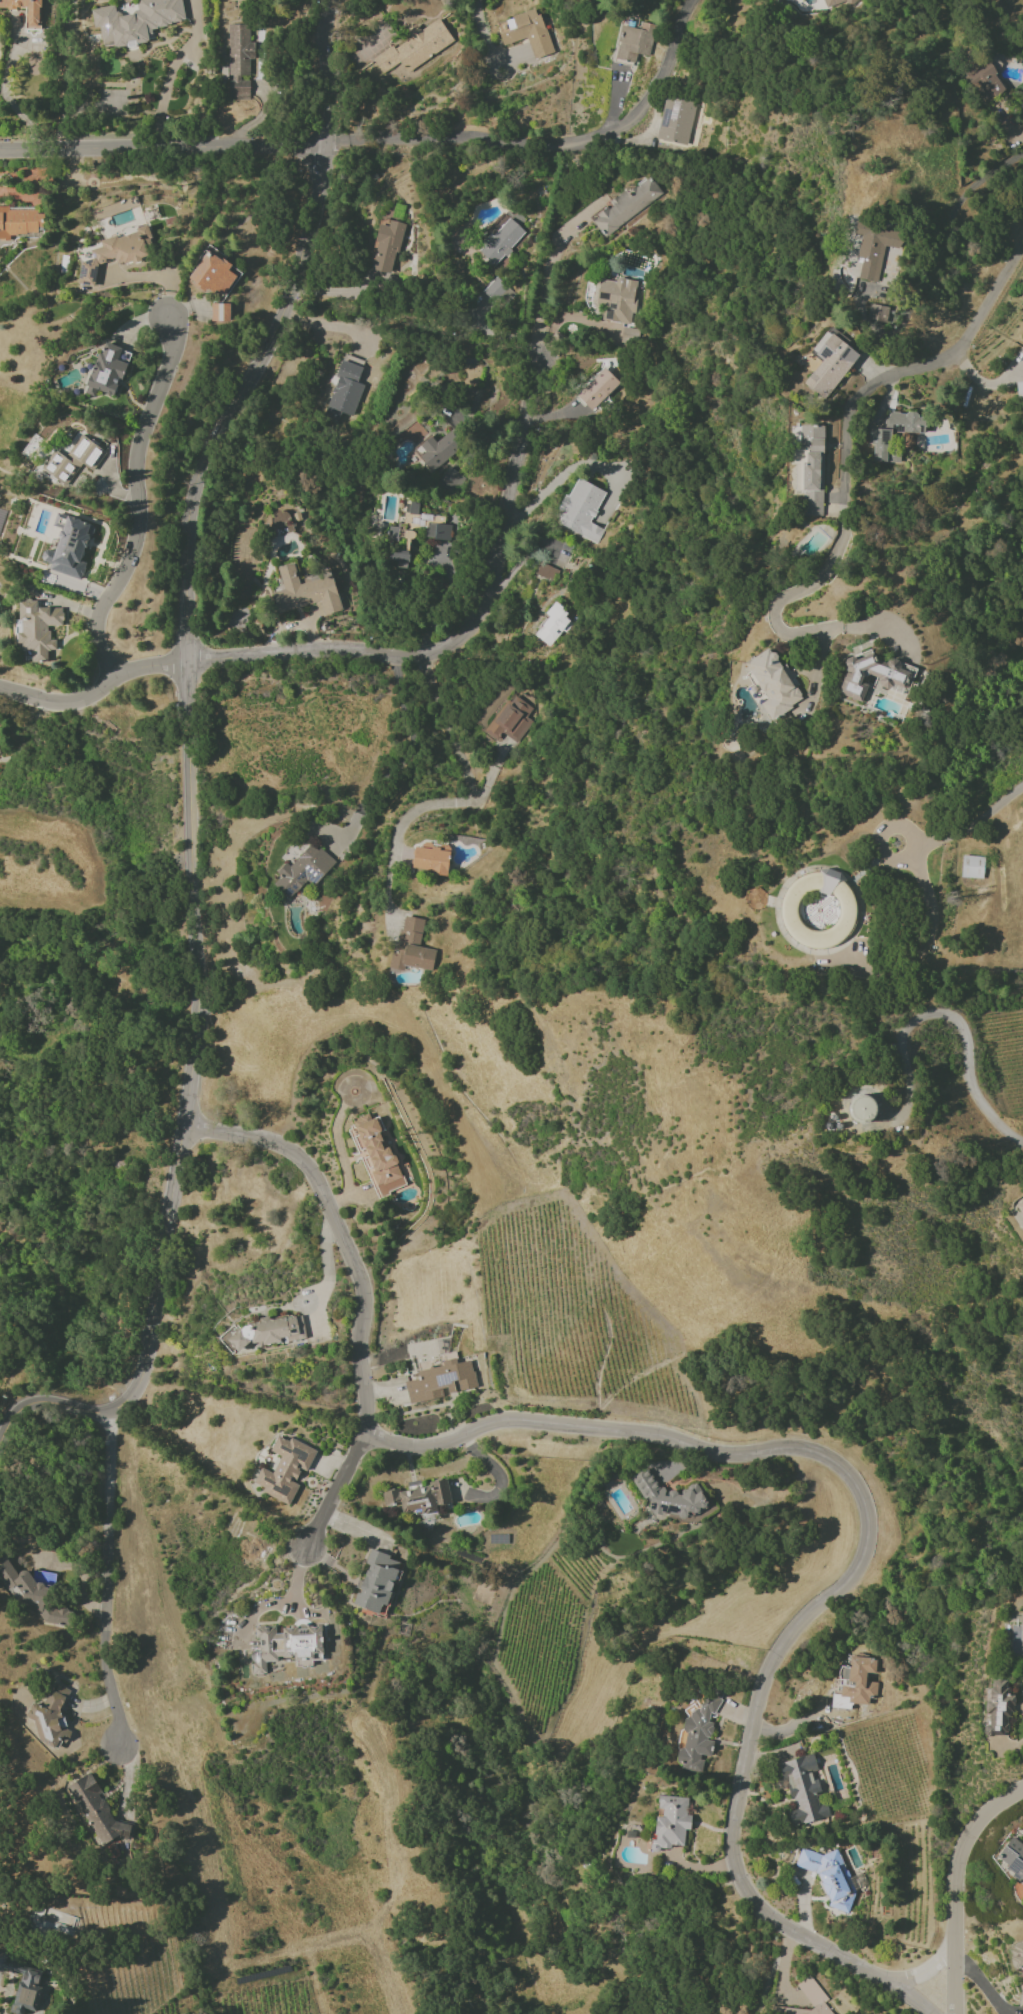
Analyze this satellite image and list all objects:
building: (833, 4)
building: (26, 11)
building: (135, 21)
building: (525, 32)
road: (483, 33)
building: (635, 42)
building: (415, 47)
building: (238, 61)
road: (324, 71)
building: (983, 79)
road: (654, 85)
building: (675, 121)
road: (455, 143)
road: (163, 147)
building: (626, 206)
building: (21, 222)
building: (501, 241)
building: (386, 247)
building: (115, 253)
road: (928, 261)
building: (214, 272)
road: (545, 272)
road: (152, 276)
road: (336, 291)
building: (494, 293)
building: (880, 294)
building: (619, 299)
building: (220, 312)
building: (877, 313)
road: (329, 323)
road: (974, 323)
building: (829, 363)
building: (105, 371)
road: (983, 381)
building: (597, 390)
building: (1019, 390)
building: (344, 392)
building: (879, 439)
building: (436, 451)
building: (74, 460)
building: (810, 468)
building: (451, 478)
road: (557, 479)
road: (140, 498)
building: (581, 510)
building: (285, 521)
building: (416, 533)
road: (839, 537)
building: (69, 549)
building: (305, 592)
building: (553, 625)
road: (877, 627)
building: (36, 628)
road: (463, 629)
building: (876, 675)
building: (773, 683)
road: (93, 693)
road: (407, 756)
road: (464, 803)
road: (982, 817)
road: (893, 825)
road: (189, 835)
road: (920, 851)
road: (908, 856)
building: (431, 859)
building: (972, 866)
building: (303, 870)
building: (754, 898)
building: (789, 909)
building: (412, 946)
road: (919, 950)
road: (965, 1038)
building: (863, 1109)
building: (1021, 1211)
road: (325, 1270)
building: (268, 1332)
building: (440, 1379)
road: (749, 1451)
building: (285, 1469)
building: (649, 1487)
road: (343, 1491)
building: (422, 1498)
road: (105, 1580)
building: (377, 1584)
building: (32, 1592)
road: (289, 1601)
building: (287, 1645)
building: (857, 1683)
road: (89, 1705)
building: (997, 1708)
building: (50, 1718)
building: (697, 1733)
road: (128, 1782)
building: (803, 1790)
building: (96, 1810)
building: (671, 1822)
road: (974, 1831)
building: (1013, 1857)
building: (829, 1877)
road: (954, 1953)
building: (1017, 1957)
road: (925, 1975)
building: (25, 1981)
road: (979, 1981)
building: (807, 2000)

